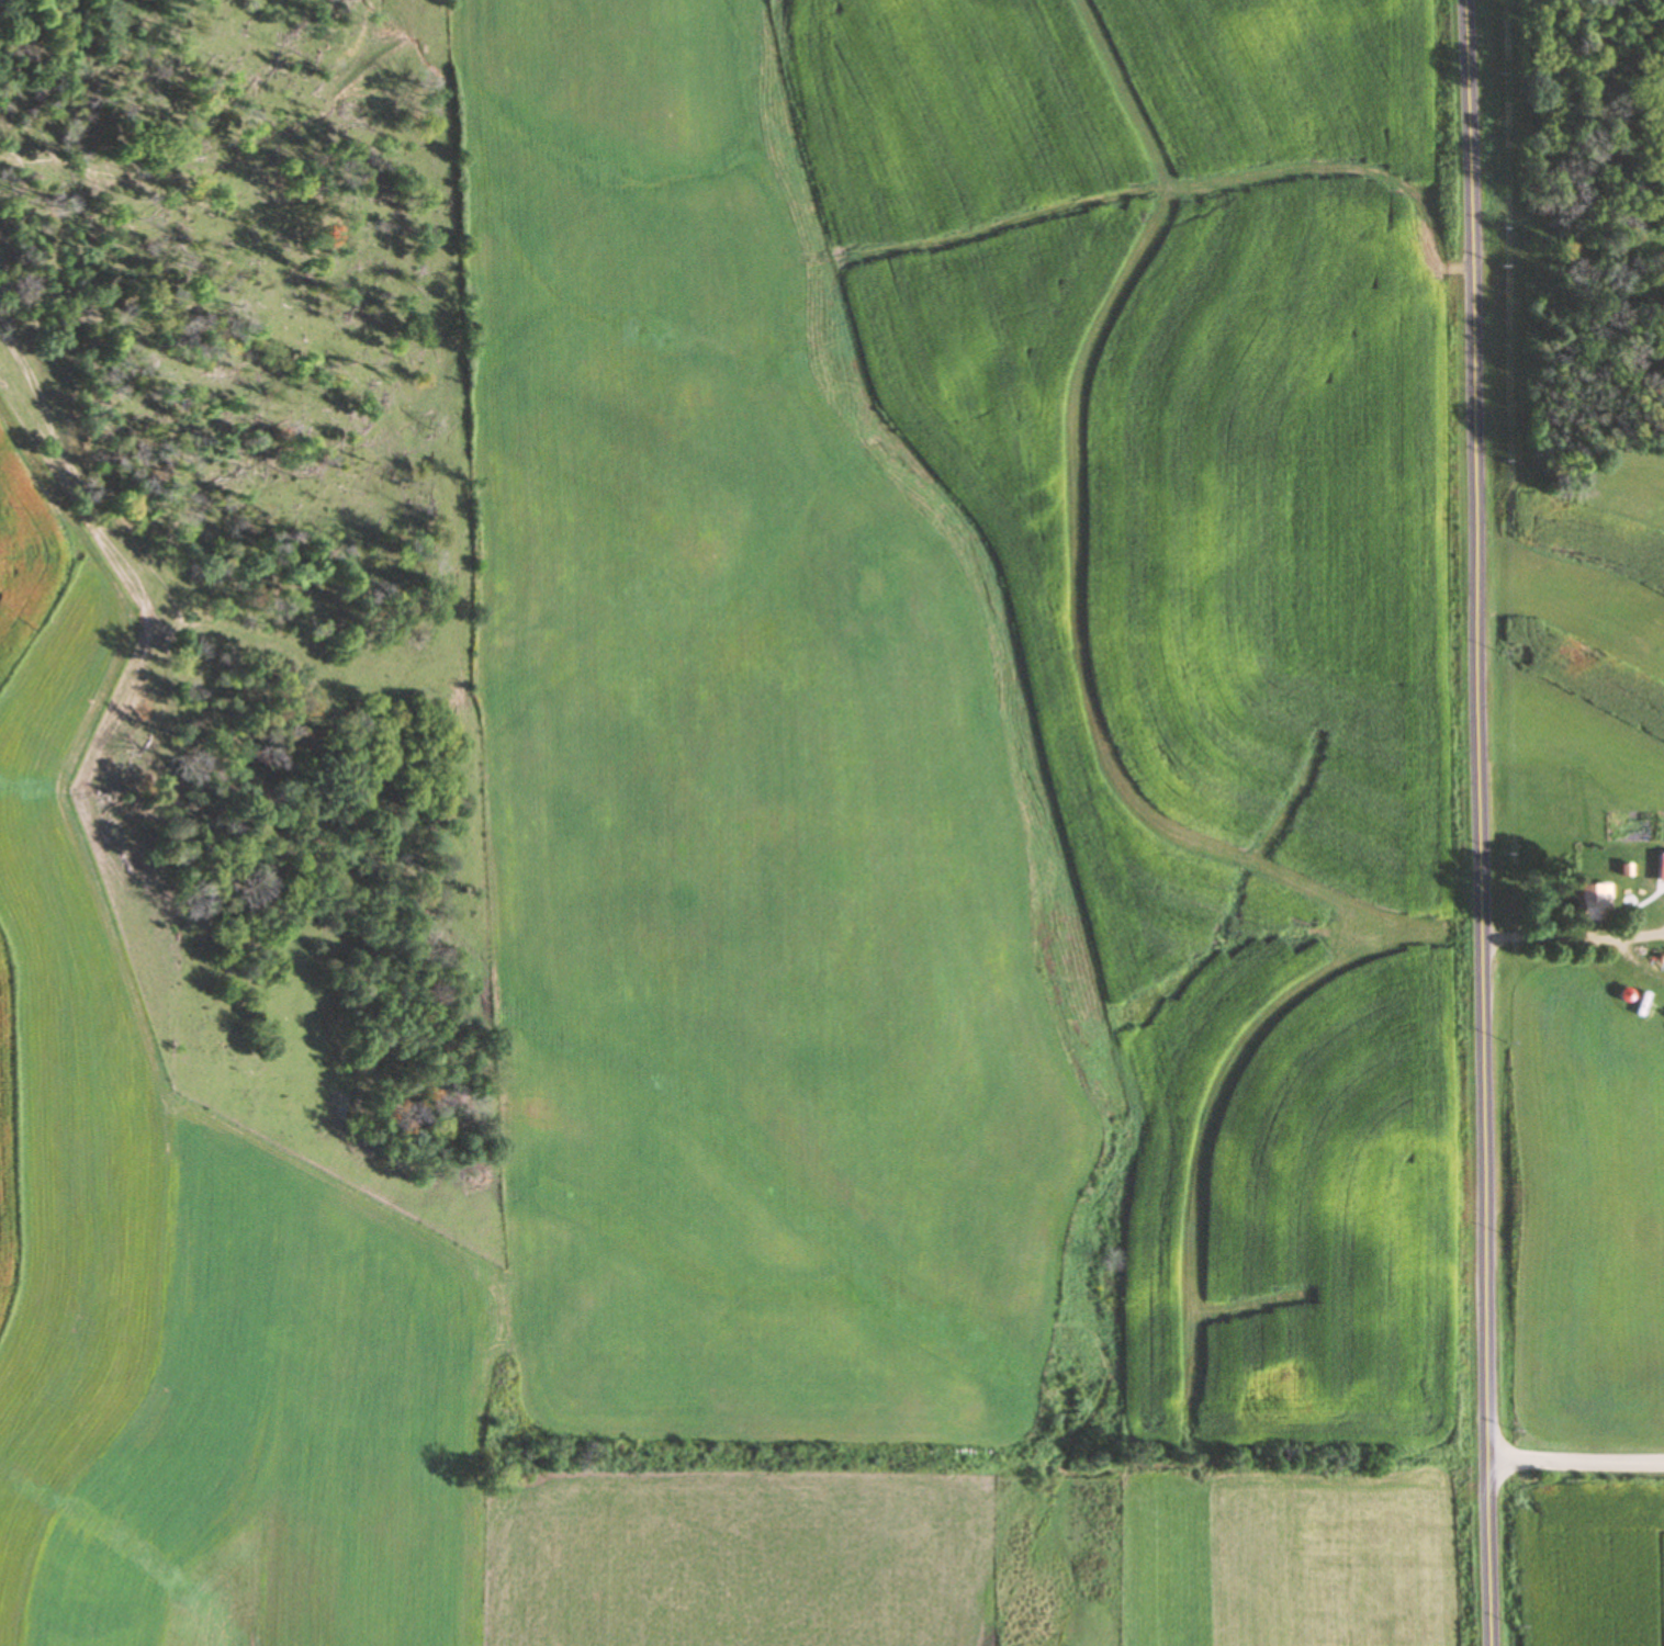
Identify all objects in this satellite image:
road: (1475, 823)
building: (1587, 903)
road: (1575, 1463)

